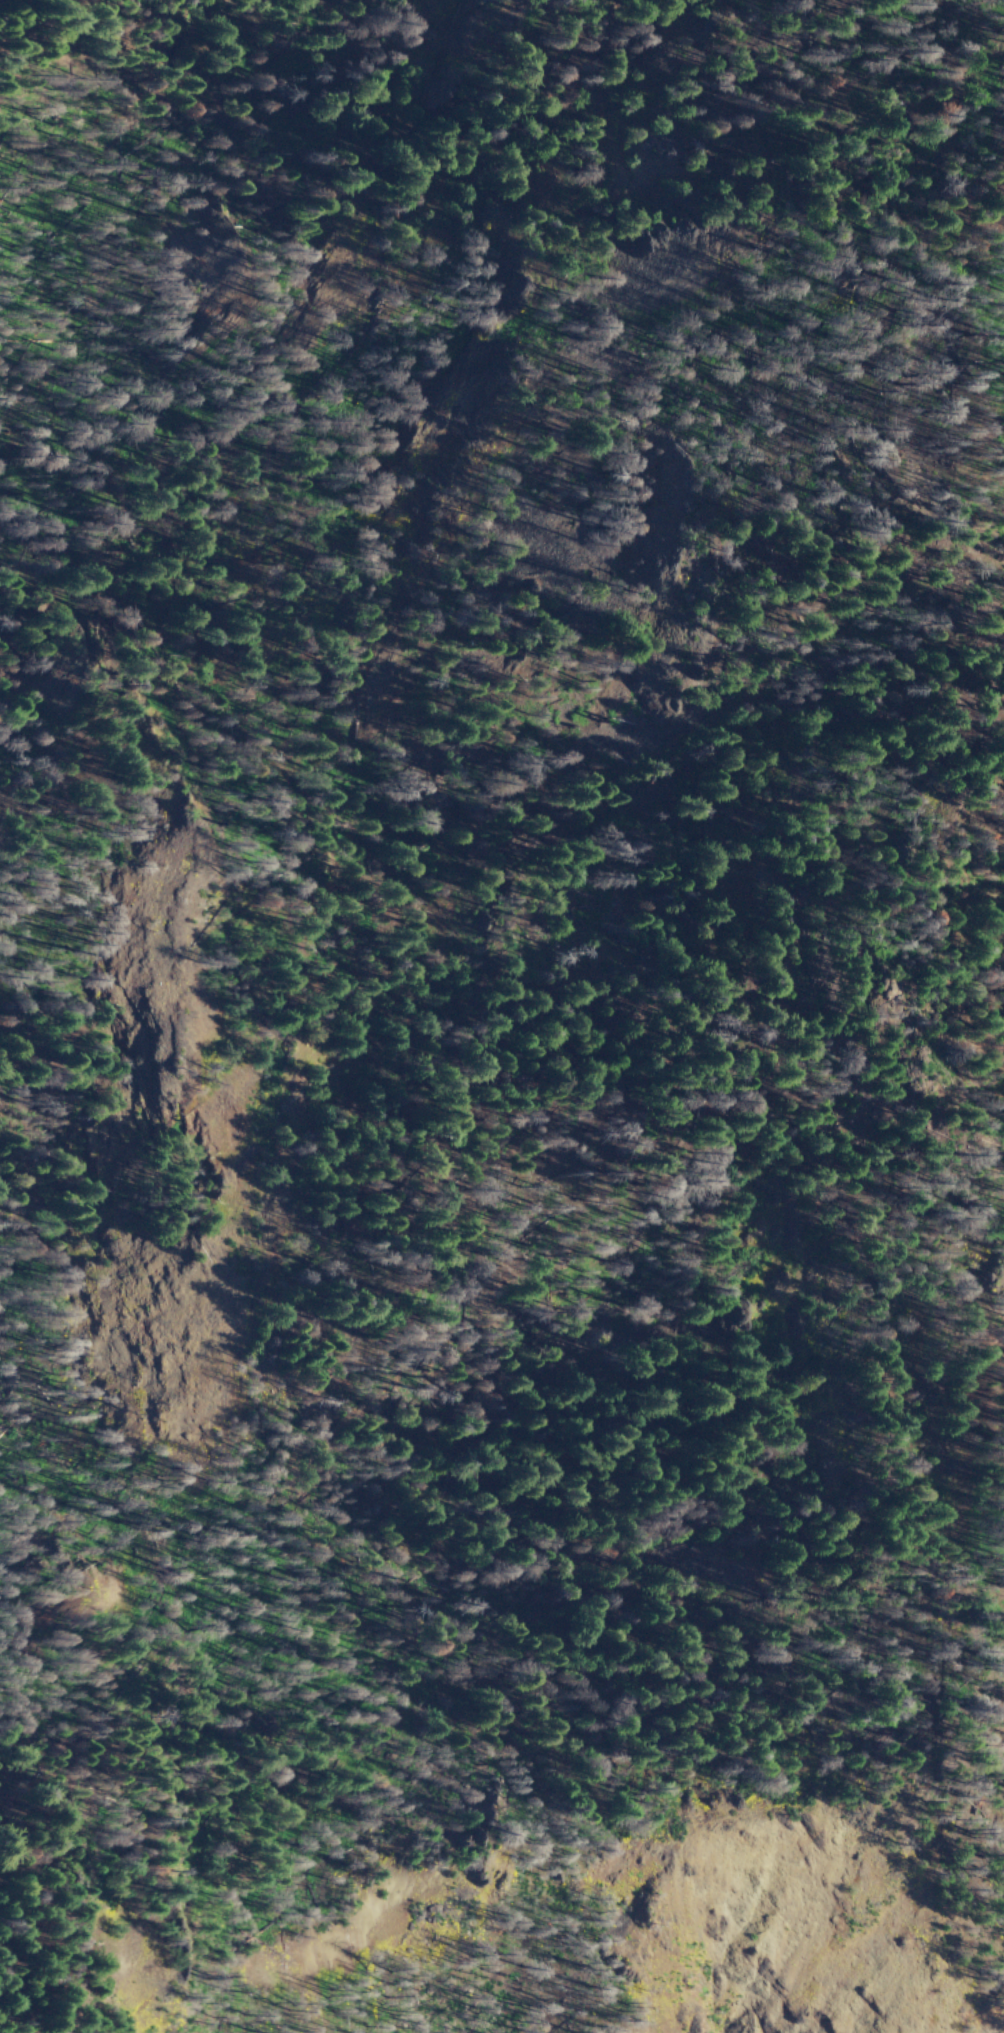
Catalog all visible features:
road: (943, 944)

